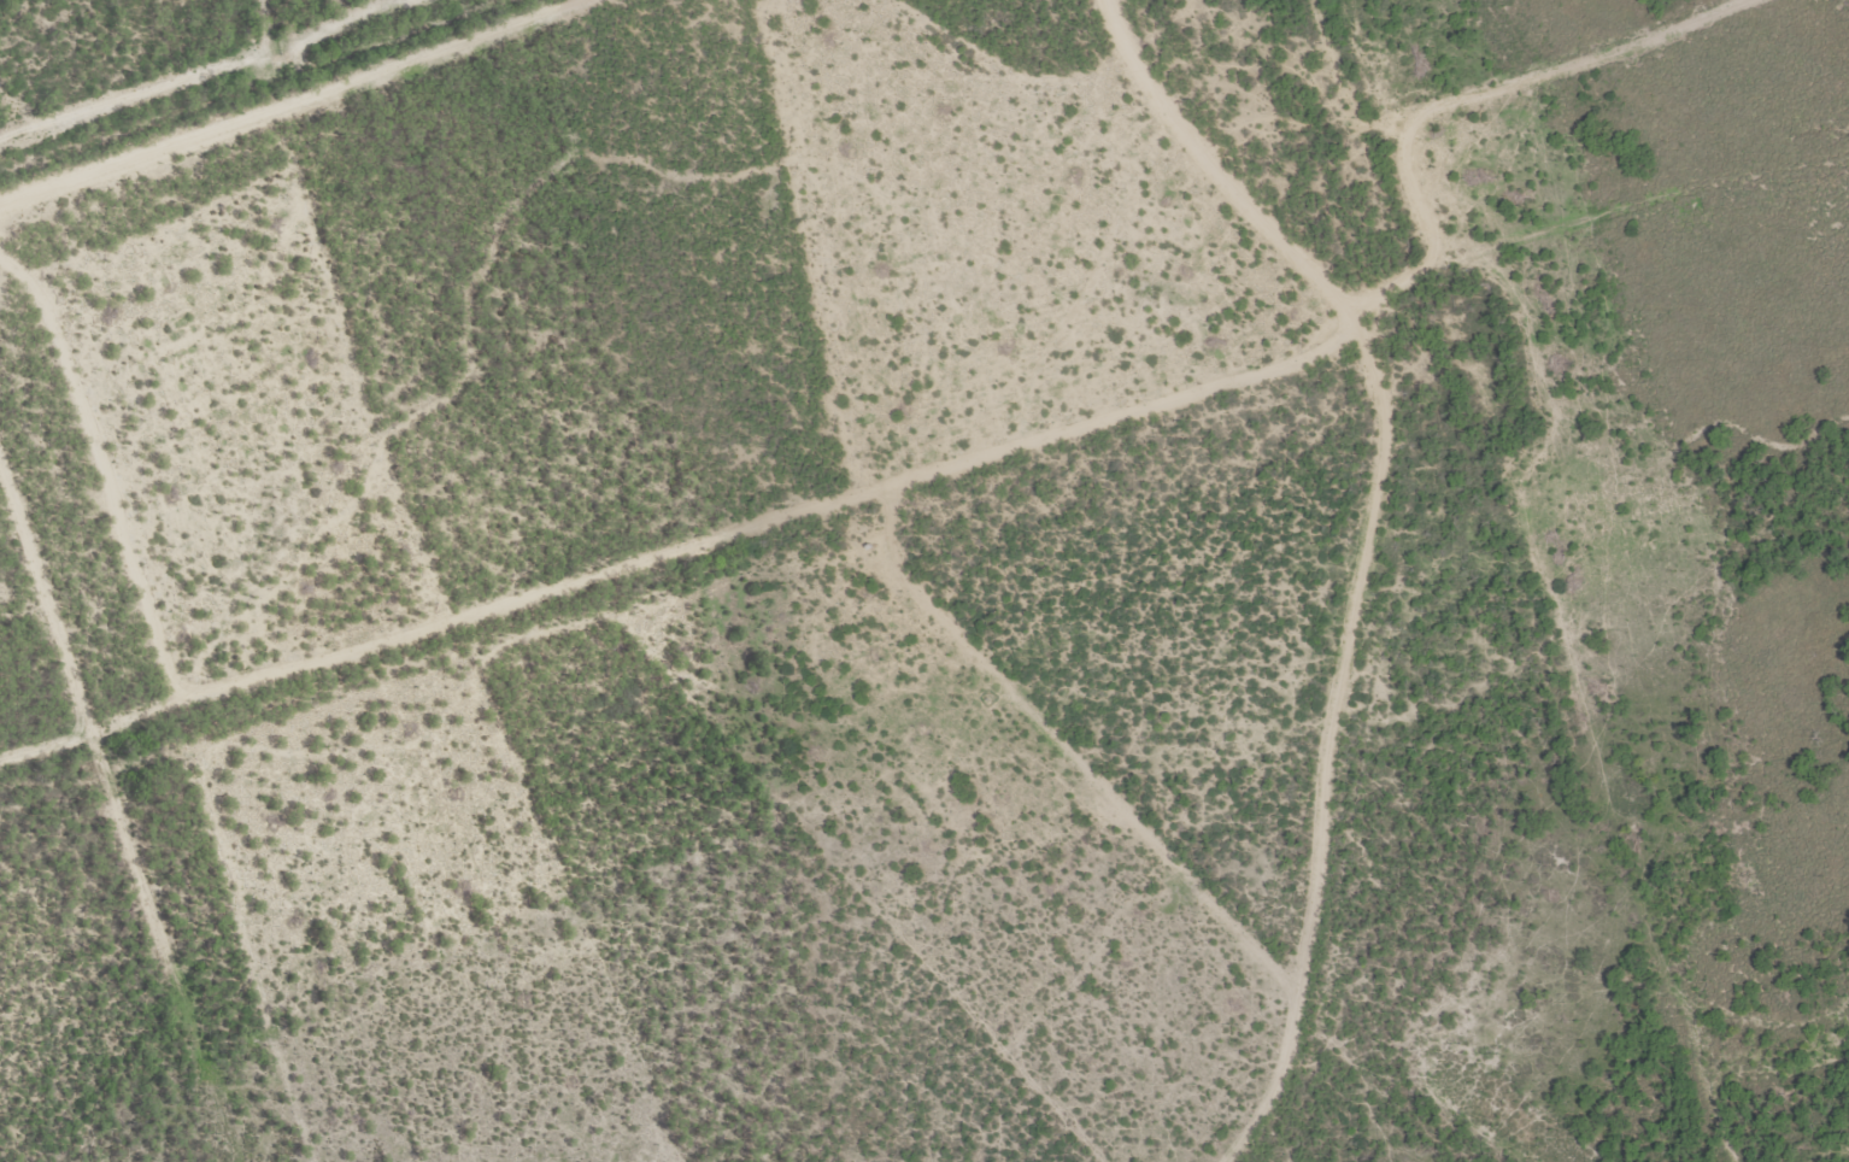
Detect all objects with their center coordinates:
road: (297, 107)

